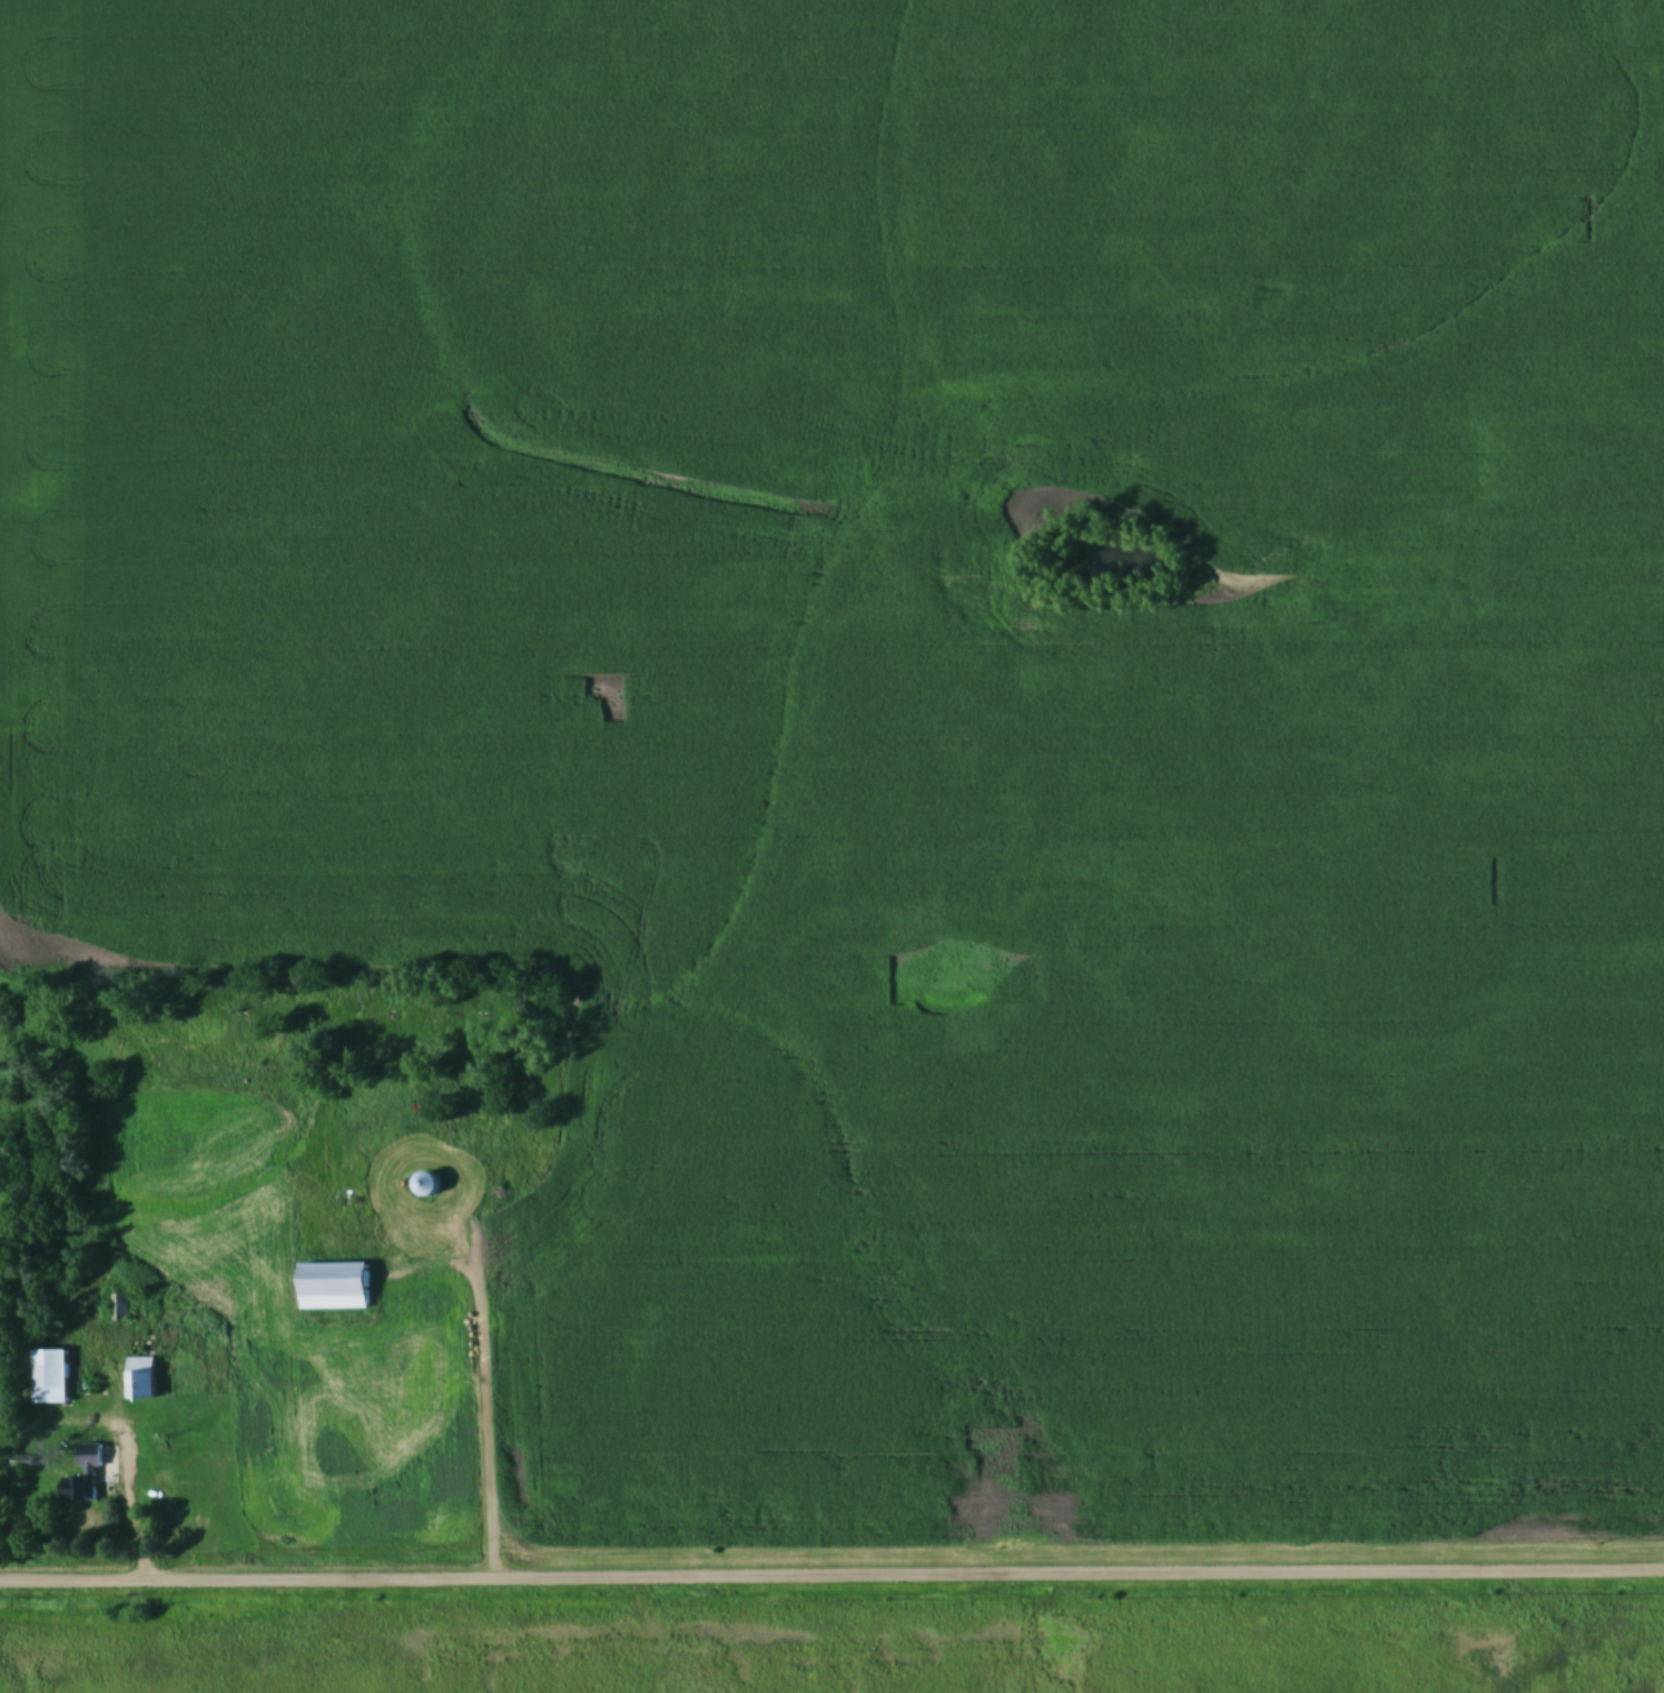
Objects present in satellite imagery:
building: (338, 1284)
building: (55, 1376)
building: (146, 1378)
road: (467, 1415)
building: (21, 1461)
building: (85, 1475)
road: (112, 1510)
road: (831, 1574)

